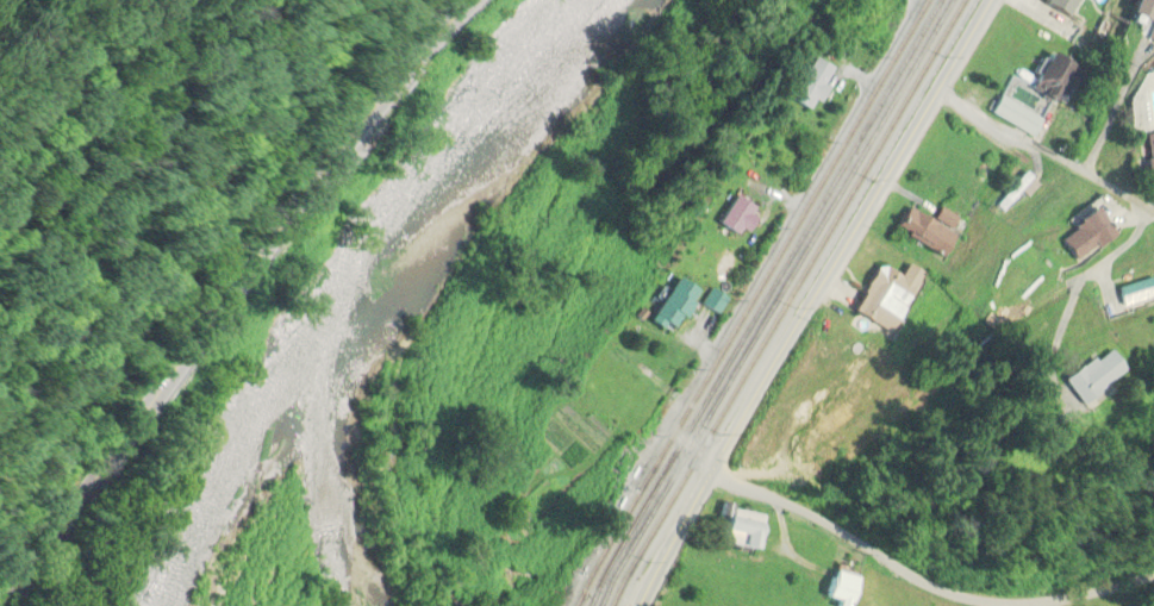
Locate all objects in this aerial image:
building: (1056, 6)
building: (1046, 77)
building: (809, 85)
building: (1013, 117)
road: (1042, 148)
building: (1148, 162)
building: (731, 217)
building: (942, 218)
building: (925, 235)
building: (1081, 236)
river: (355, 279)
road: (229, 295)
building: (1136, 295)
road: (805, 298)
building: (882, 299)
building: (668, 304)
railway: (772, 305)
building: (1084, 377)
road: (675, 438)
river: (210, 482)
building: (737, 529)
building: (837, 588)

